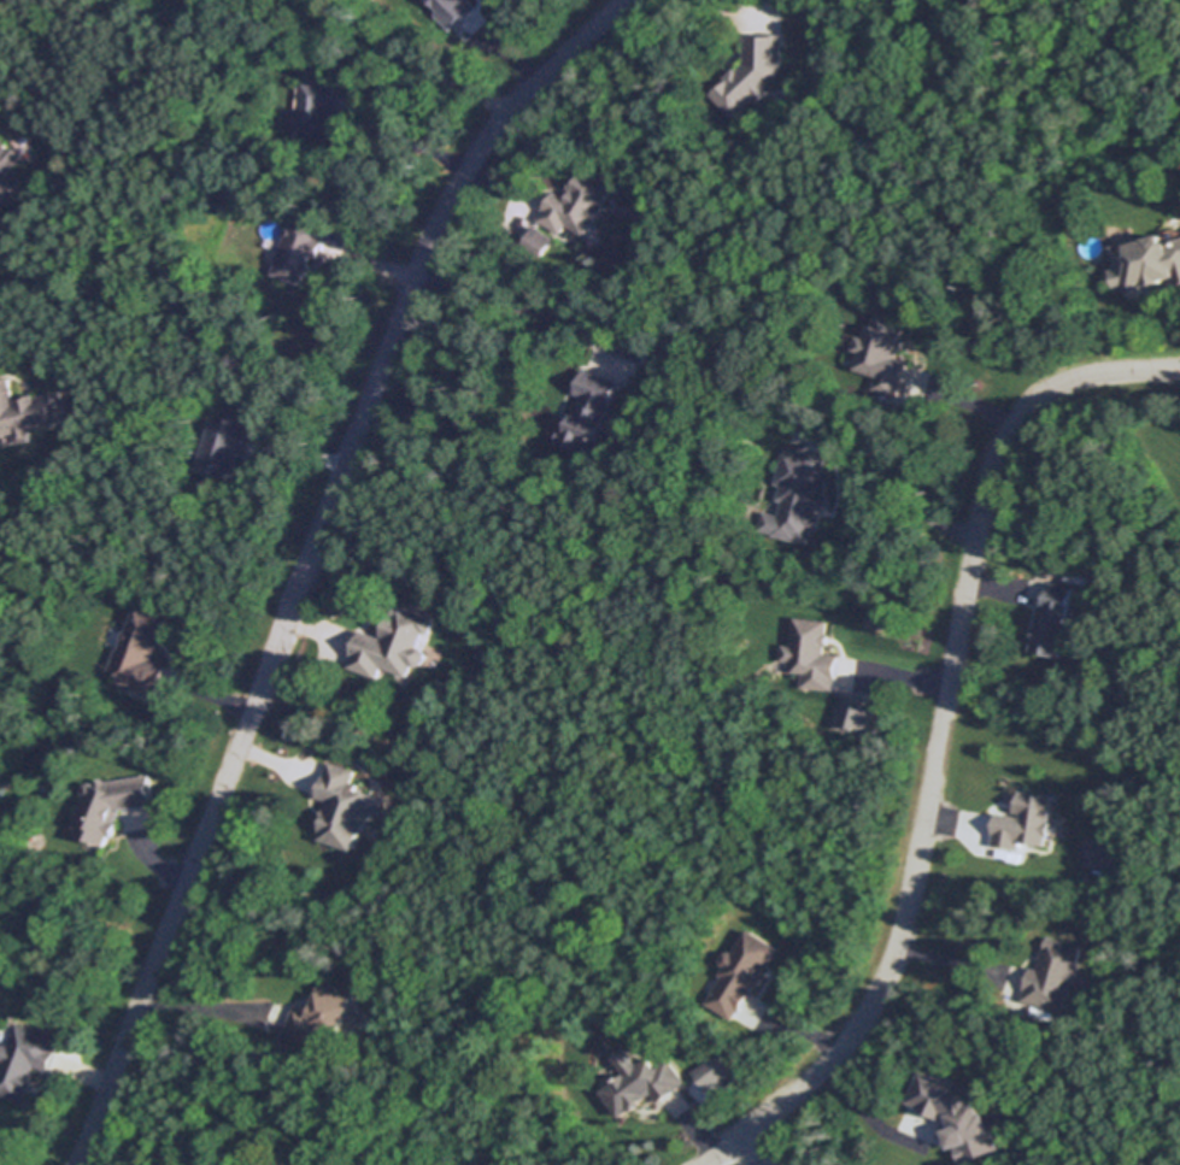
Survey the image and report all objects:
building: (458, 12)
building: (753, 71)
building: (318, 107)
road: (406, 136)
building: (8, 171)
building: (577, 202)
building: (539, 239)
building: (298, 248)
building: (1145, 258)
road: (526, 307)
building: (882, 351)
building: (676, 394)
building: (29, 410)
building: (589, 411)
building: (227, 446)
road: (896, 487)
building: (800, 493)
road: (306, 555)
building: (1108, 583)
building: (1051, 622)
building: (393, 643)
building: (143, 649)
building: (811, 653)
building: (859, 713)
road: (935, 736)
building: (111, 806)
building: (344, 807)
building: (1022, 820)
building: (1110, 855)
road: (958, 961)
building: (742, 970)
building: (1053, 972)
road: (211, 1010)
building: (322, 1012)
building: (24, 1058)
building: (718, 1072)
building: (644, 1083)
road: (864, 1113)
building: (958, 1114)
road: (757, 1149)

